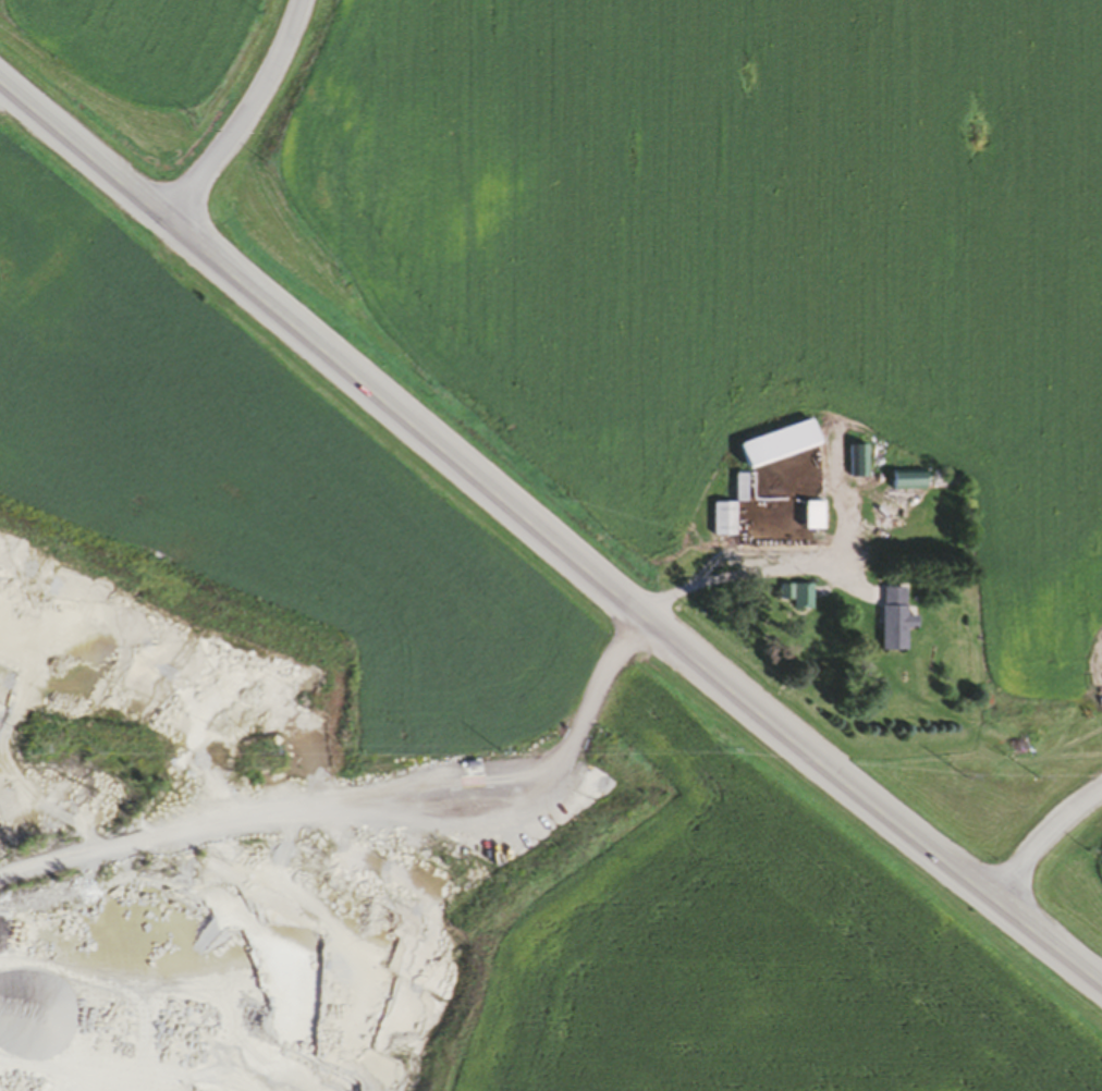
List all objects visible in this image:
road: (232, 112)
building: (856, 464)
building: (903, 485)
building: (783, 498)
road: (547, 539)
road: (749, 575)
building: (795, 599)
building: (892, 622)
building: (470, 770)
road: (366, 783)
road: (1044, 845)
quarry: (255, 903)

